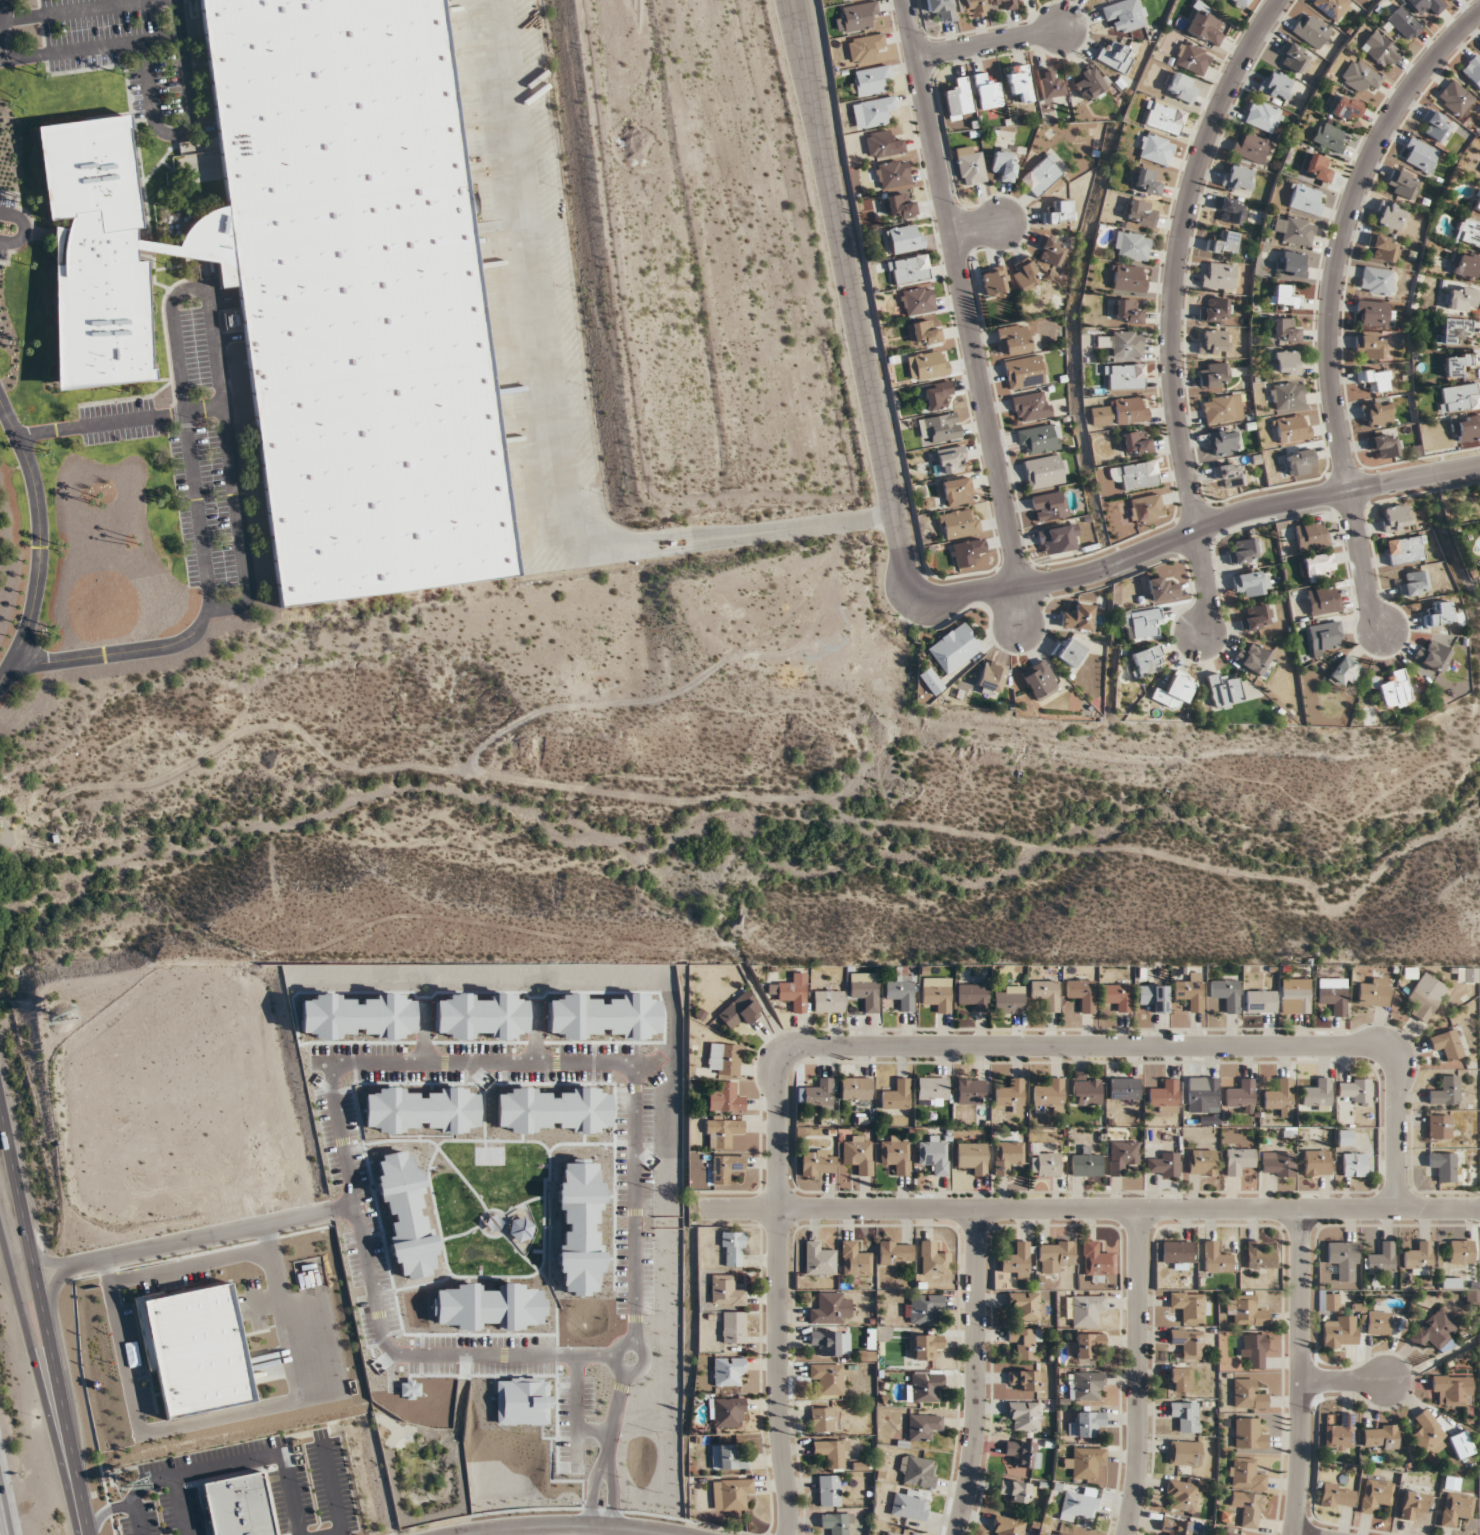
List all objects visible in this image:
building: (847, 0)
building: (1099, 0)
building: (993, 1)
building: (1009, 4)
building: (1426, 5)
building: (973, 7)
building: (1332, 7)
building: (941, 8)
road: (81, 10)
building: (1124, 14)
road: (3, 15)
building: (855, 16)
building: (1403, 22)
building: (1206, 27)
building: (1311, 29)
road: (988, 38)
building: (864, 46)
building: (1380, 49)
building: (1115, 54)
building: (1192, 57)
building: (1293, 57)
building: (1472, 69)
building: (1358, 76)
building: (869, 79)
building: (1019, 81)
building: (1088, 83)
building: (1276, 85)
building: (1049, 86)
building: (1180, 87)
building: (988, 91)
road: (148, 97)
building: (1455, 98)
building: (958, 99)
building: (1346, 108)
building: (873, 111)
building: (1262, 116)
building: (1163, 117)
building: (1437, 127)
building: (1330, 136)
building: (883, 143)
building: (1249, 147)
building: (1155, 149)
building: (1420, 154)
building: (1004, 162)
building: (970, 165)
building: (1318, 166)
building: (892, 173)
building: (1042, 175)
building: (1238, 178)
building: (1146, 181)
building: (1402, 183)
building: (1304, 198)
building: (1477, 203)
building: (901, 204)
building: (1230, 210)
building: (1060, 212)
building: (1141, 212)
building: (1392, 216)
road: (979, 223)
road: (17, 226)
building: (1293, 229)
building: (904, 238)
building: (1225, 243)
building: (1131, 246)
building: (1383, 247)
building: (1053, 251)
building: (106, 252)
building: (1290, 263)
building: (1467, 265)
building: (909, 269)
building: (1025, 274)
building: (1219, 275)
building: (1129, 278)
building: (1376, 279)
building: (994, 281)
building: (359, 293)
building: (1284, 296)
building: (1462, 298)
building: (917, 300)
road: (1330, 300)
road: (531, 308)
road: (1170, 310)
building: (1216, 310)
building: (1128, 311)
road: (966, 312)
building: (1375, 313)
building: (1454, 329)
building: (1284, 330)
building: (924, 332)
building: (1014, 339)
building: (1214, 342)
building: (1120, 343)
building: (1370, 346)
road: (863, 348)
building: (1287, 362)
building: (930, 364)
building: (1455, 364)
road: (175, 365)
building: (1025, 371)
building: (1215, 374)
building: (1125, 376)
building: (1376, 379)
building: (937, 394)
building: (1286, 395)
building: (1457, 397)
building: (1031, 405)
building: (1222, 408)
building: (1130, 410)
building: (1379, 413)
road: (119, 421)
building: (941, 427)
building: (1468, 427)
building: (1292, 428)
building: (1038, 439)
building: (1224, 441)
building: (1135, 443)
building: (1384, 445)
building: (949, 459)
building: (1300, 461)
building: (1045, 471)
building: (1135, 474)
building: (1231, 474)
building: (956, 491)
building: (1049, 505)
building: (1146, 507)
road: (1245, 510)
building: (1397, 517)
building: (958, 523)
road: (796, 527)
building: (1311, 535)
building: (1058, 538)
road: (38, 539)
road: (639, 547)
building: (1406, 549)
building: (1244, 550)
building: (964, 552)
building: (1317, 565)
building: (1416, 582)
building: (1249, 583)
building: (1160, 589)
building: (1323, 599)
building: (1440, 613)
building: (1257, 616)
building: (1078, 617)
building: (1142, 622)
building: (1324, 636)
building: (953, 647)
building: (1069, 651)
building: (1434, 655)
building: (1253, 659)
building: (1145, 660)
building: (1345, 672)
building: (990, 676)
building: (1039, 679)
building: (929, 680)
building: (1223, 689)
building: (1394, 689)
building: (1173, 692)
park: (688, 798)
building: (1467, 974)
building: (1190, 990)
building: (792, 991)
building: (901, 992)
building: (1373, 992)
building: (936, 993)
building: (1226, 993)
building: (864, 994)
building: (1046, 994)
building: (1081, 994)
building: (1332, 994)
building: (1295, 995)
building: (973, 996)
building: (1117, 996)
building: (1425, 996)
building: (1153, 997)
building: (828, 1001)
building: (1260, 1001)
building: (1009, 1002)
building: (740, 1010)
road: (924, 1044)
building: (1447, 1044)
building: (723, 1059)
building: (855, 1088)
building: (1123, 1088)
building: (971, 1089)
building: (1355, 1089)
building: (931, 1090)
building: (1445, 1090)
building: (1086, 1092)
building: (1202, 1092)
building: (819, 1093)
building: (1050, 1093)
building: (1240, 1093)
building: (1316, 1093)
building: (896, 1094)
building: (1010, 1094)
building: (1278, 1094)
building: (1164, 1096)
building: (726, 1097)
building: (1438, 1126)
building: (723, 1132)
building: (1345, 1137)
building: (858, 1154)
building: (896, 1154)
building: (1122, 1155)
building: (1008, 1156)
building: (934, 1157)
building: (973, 1157)
building: (1238, 1160)
building: (1201, 1162)
building: (1316, 1162)
building: (817, 1163)
building: (1048, 1164)
building: (1086, 1164)
building: (1277, 1164)
building: (1354, 1164)
building: (1164, 1165)
building: (1442, 1165)
building: (726, 1168)
road: (340, 1178)
road: (624, 1195)
road: (1091, 1208)
road: (305, 1214)
road: (165, 1244)
building: (733, 1248)
building: (1460, 1251)
building: (895, 1252)
building: (1178, 1253)
building: (1053, 1255)
building: (1259, 1256)
building: (818, 1258)
building: (1216, 1258)
building: (1418, 1258)
building: (855, 1259)
building: (933, 1259)
building: (1018, 1259)
building: (1096, 1259)
building: (1343, 1259)
building: (1379, 1261)
road: (190, 1265)
road: (63, 1269)
building: (726, 1291)
building: (1330, 1301)
road: (259, 1303)
building: (1025, 1305)
building: (1190, 1306)
building: (924, 1307)
building: (827, 1308)
building: (1087, 1309)
building: (1246, 1310)
road: (43, 1318)
building: (1378, 1322)
building: (733, 1326)
building: (1435, 1329)
building: (1340, 1331)
building: (831, 1342)
building: (1026, 1342)
building: (1188, 1342)
building: (1087, 1344)
building: (926, 1345)
building: (195, 1349)
building: (1255, 1349)
road: (633, 1367)
building: (729, 1371)
road: (1301, 1371)
road: (975, 1372)
road: (1138, 1372)
road: (43, 1374)
building: (827, 1378)
building: (1181, 1379)
building: (1027, 1380)
road: (1343, 1380)
building: (924, 1386)
building: (1086, 1388)
building: (1450, 1388)
building: (1248, 1395)
building: (728, 1411)
building: (1023, 1415)
building: (1185, 1415)
road: (220, 1417)
road: (605, 1417)
building: (823, 1418)
building: (1086, 1423)
building: (923, 1426)
building: (1426, 1431)
building: (1249, 1433)
building: (1340, 1433)
building: (1380, 1436)
building: (1461, 1444)
building: (832, 1452)
building: (1185, 1452)
building: (1023, 1453)
building: (727, 1457)
road: (243, 1460)
building: (1085, 1462)
building: (917, 1471)
building: (1245, 1474)
building: (829, 1490)
road: (333, 1491)
road: (584, 1492)
road: (8, 1493)
road: (607, 1494)
building: (730, 1494)
building: (1183, 1496)
building: (1337, 1496)
building: (1376, 1496)
road: (179, 1505)
building: (909, 1505)
building: (237, 1506)
building: (1079, 1506)
building: (1413, 1506)
building: (1248, 1508)
building: (1456, 1509)
road: (106, 1511)
road: (136, 1519)
building: (834, 1523)
road: (563, 1526)
building: (1009, 1526)
building: (1175, 1526)
road: (592, 1530)
road: (87, 1533)
building: (890, 1533)
building: (1232, 1533)

